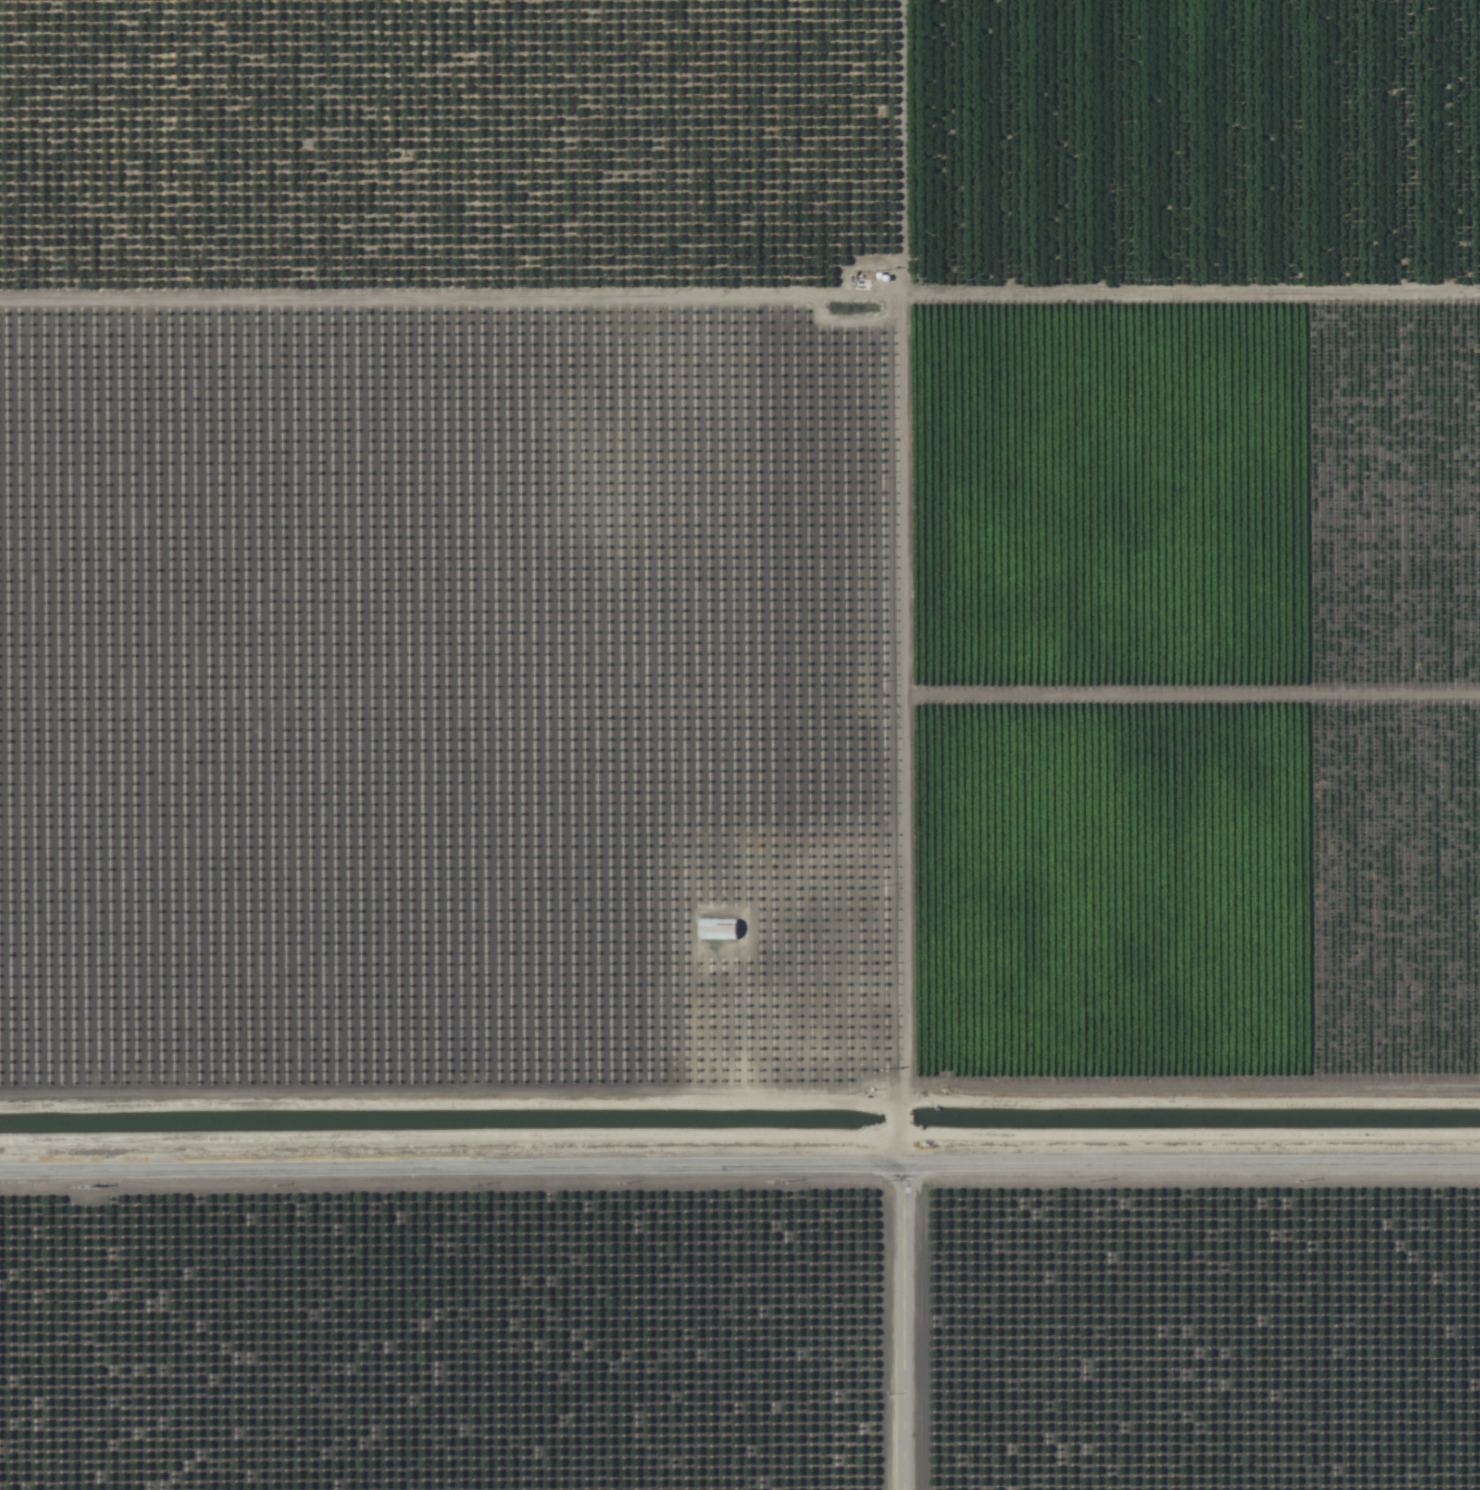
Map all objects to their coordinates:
road: (896, 578)
crop: (740, 745)
building: (717, 930)
road: (448, 1104)
road: (739, 1157)
road: (900, 1323)

